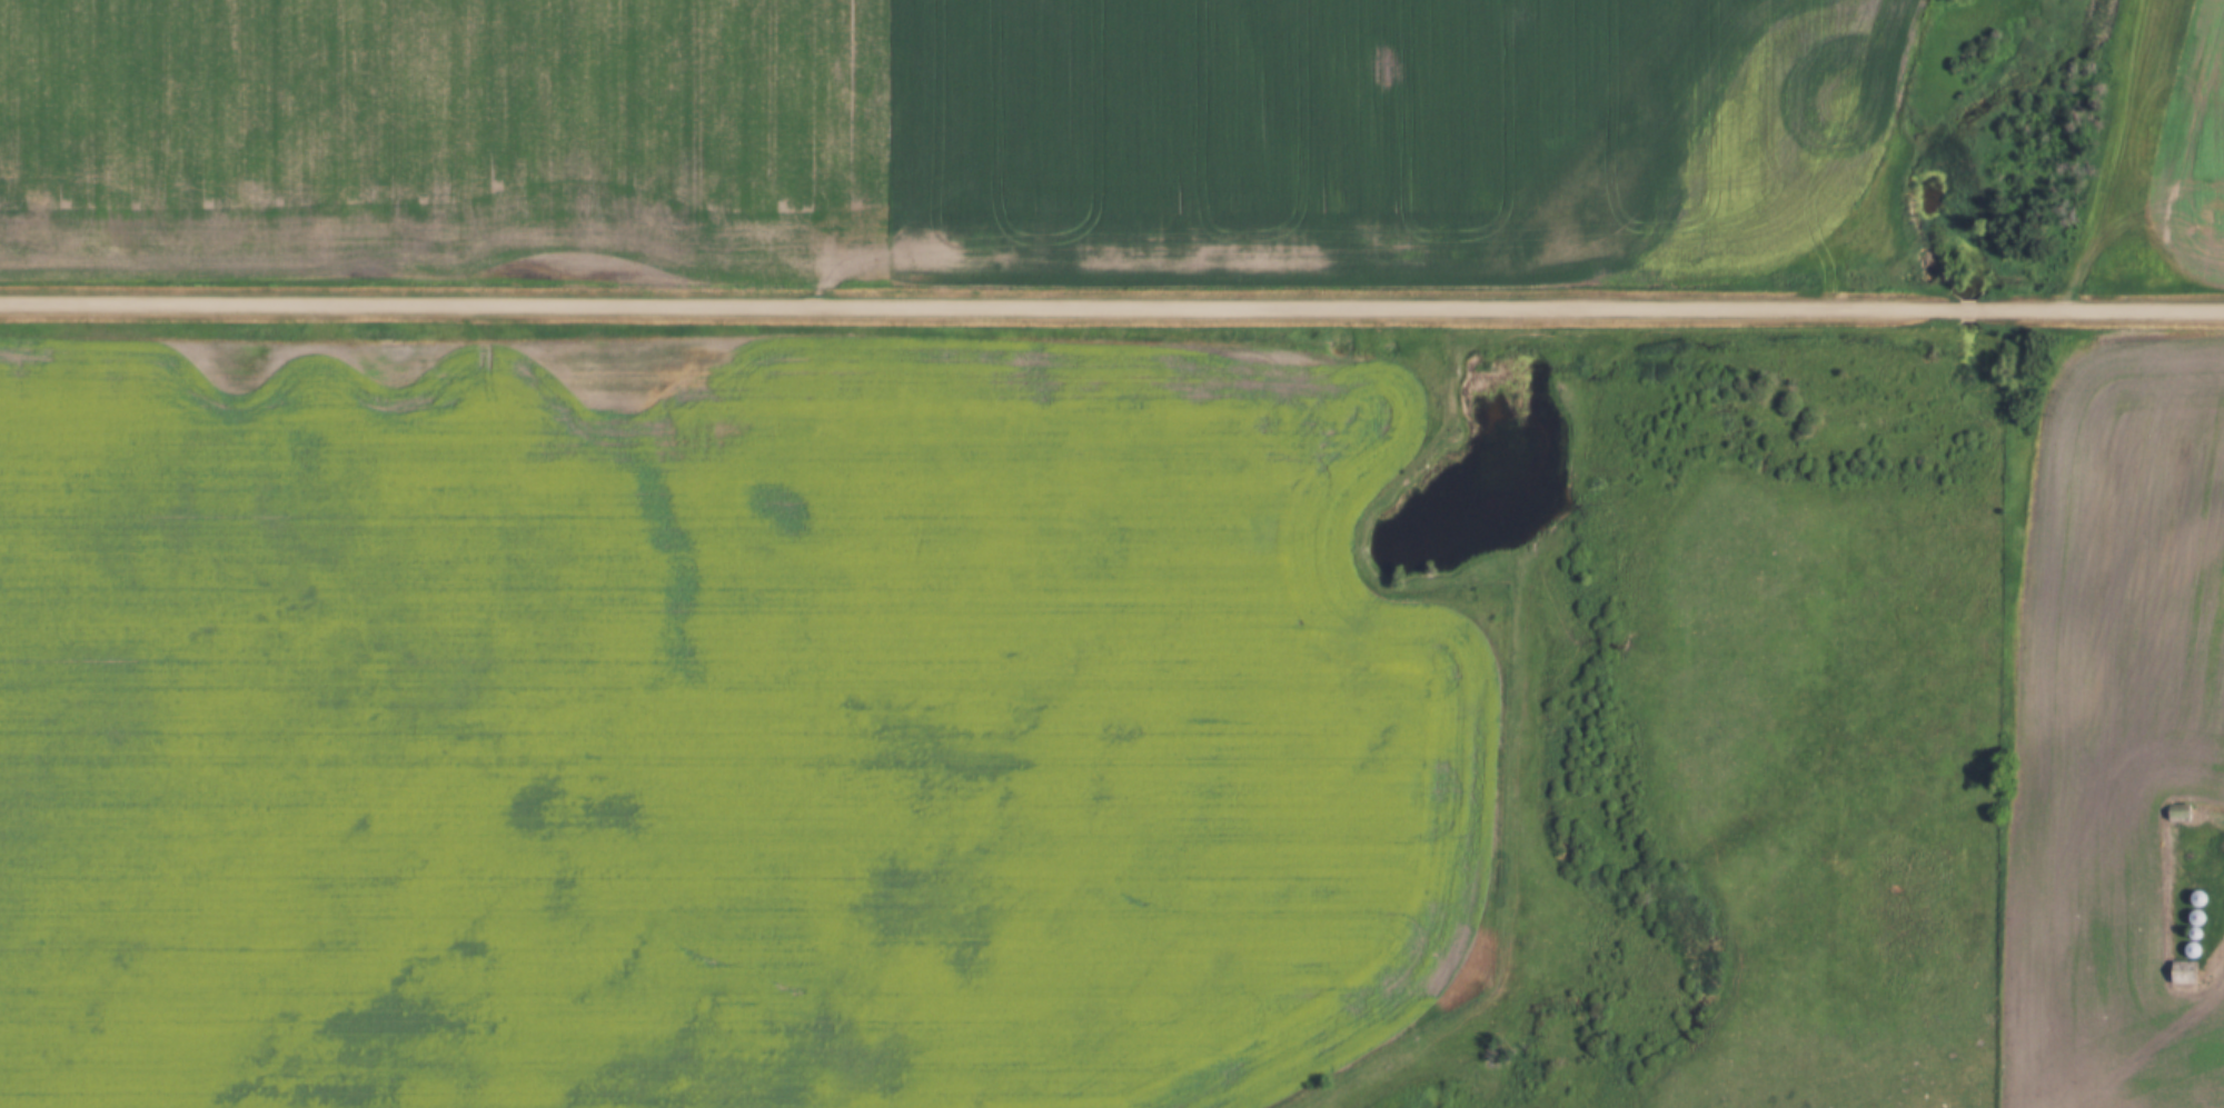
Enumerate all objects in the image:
road: (977, 309)
road: (1966, 311)
road: (2099, 311)
building: (2180, 813)
building: (2197, 898)
building: (2192, 950)
building: (2183, 972)

